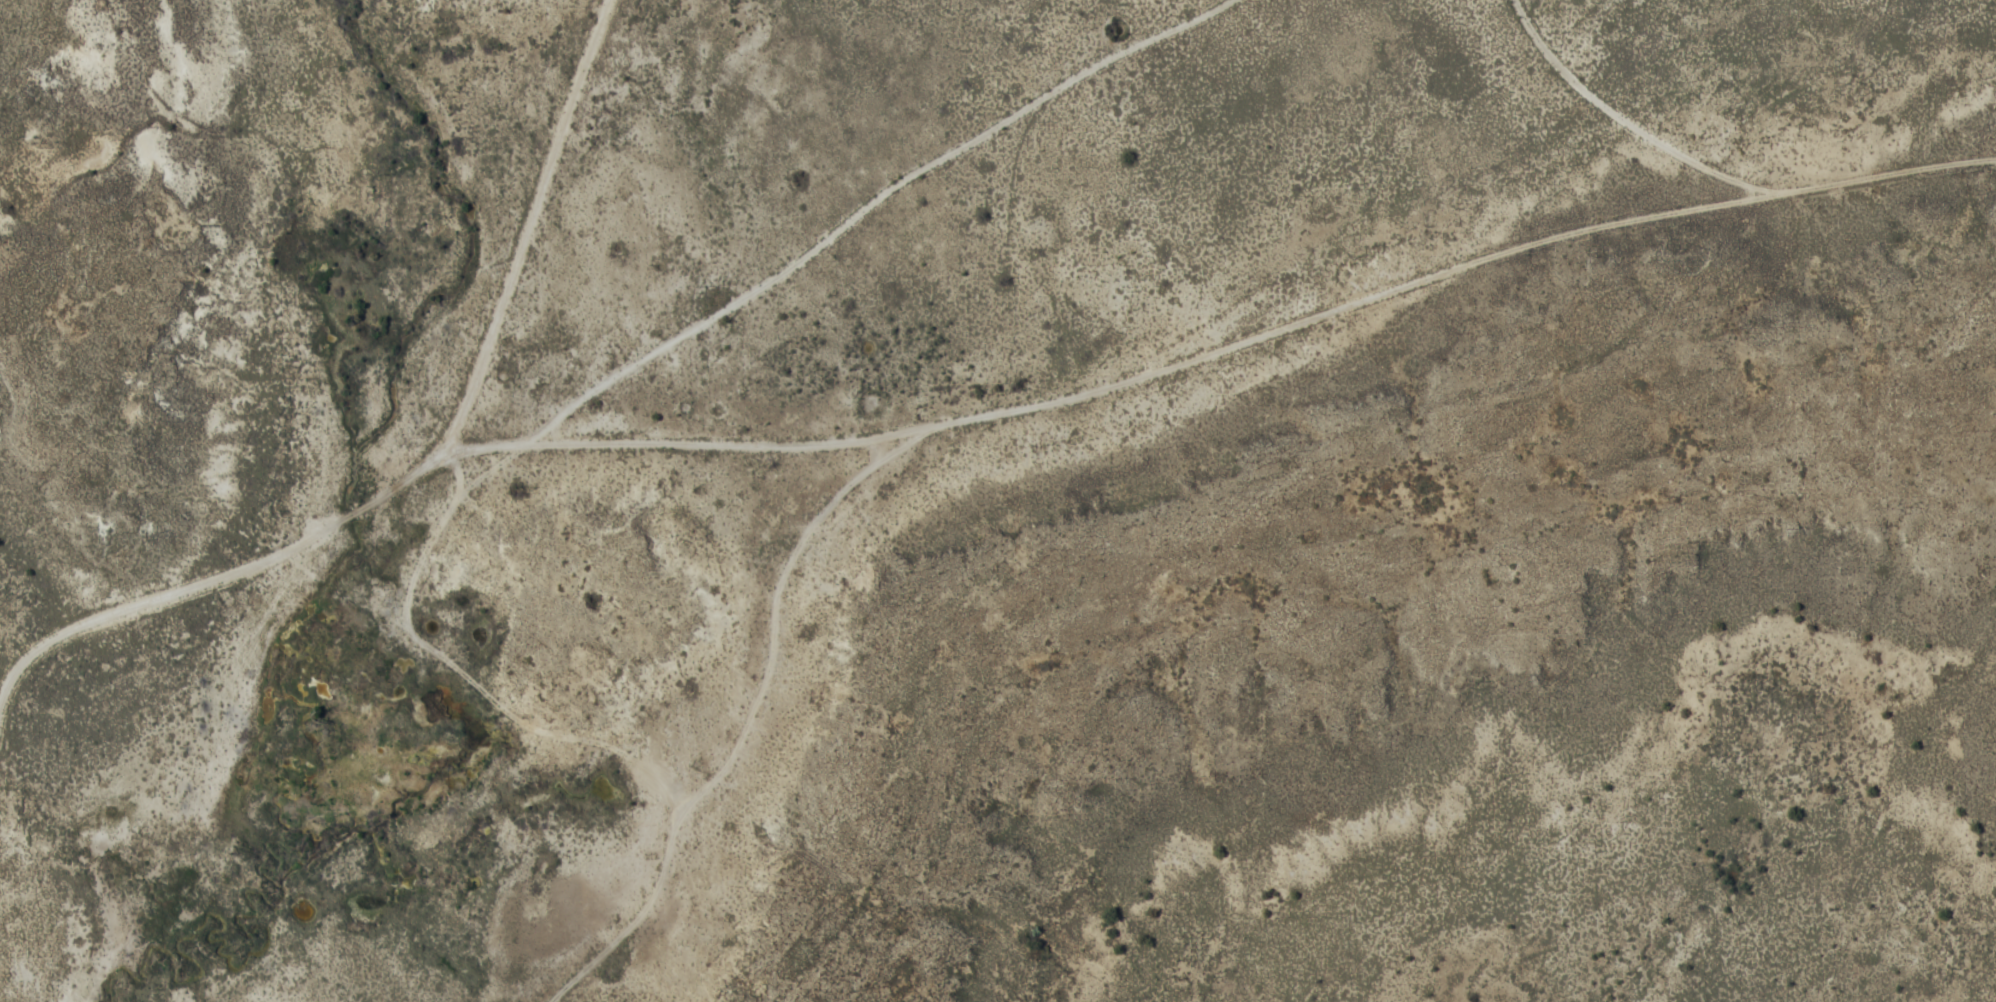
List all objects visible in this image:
road: (1703, 192)
road: (1146, 364)
road: (636, 375)
road: (430, 458)
road: (705, 740)
river: (222, 933)

